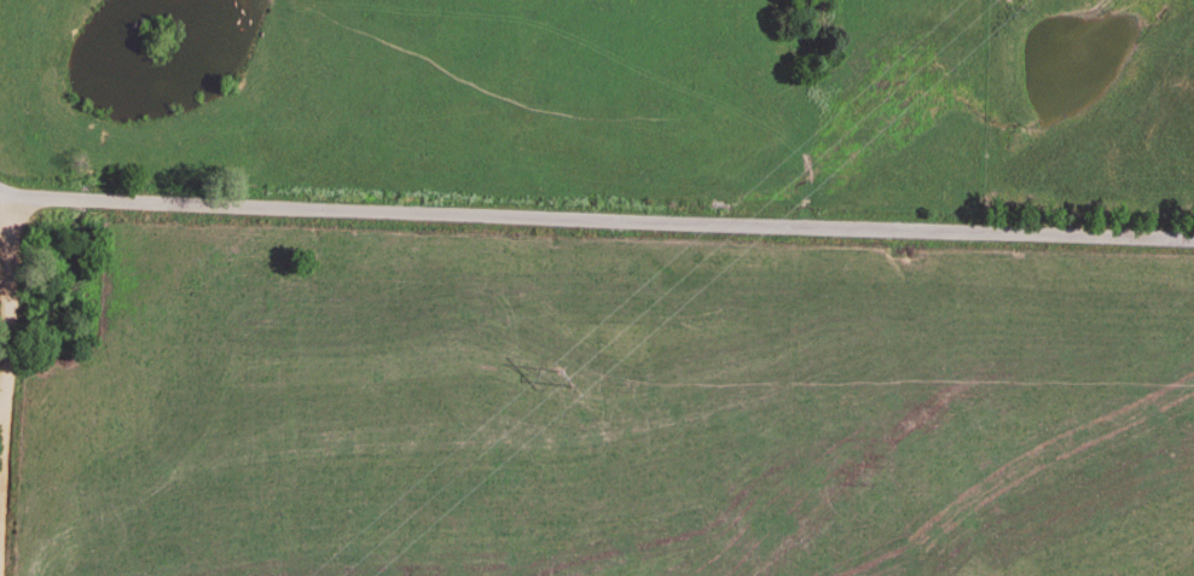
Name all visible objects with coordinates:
road: (597, 216)
power tower: (561, 378)

